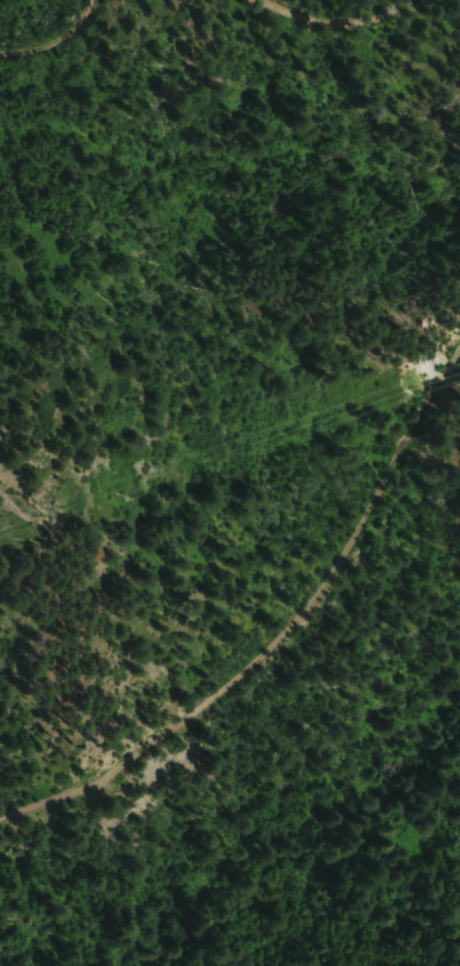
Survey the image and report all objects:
road: (282, 630)

